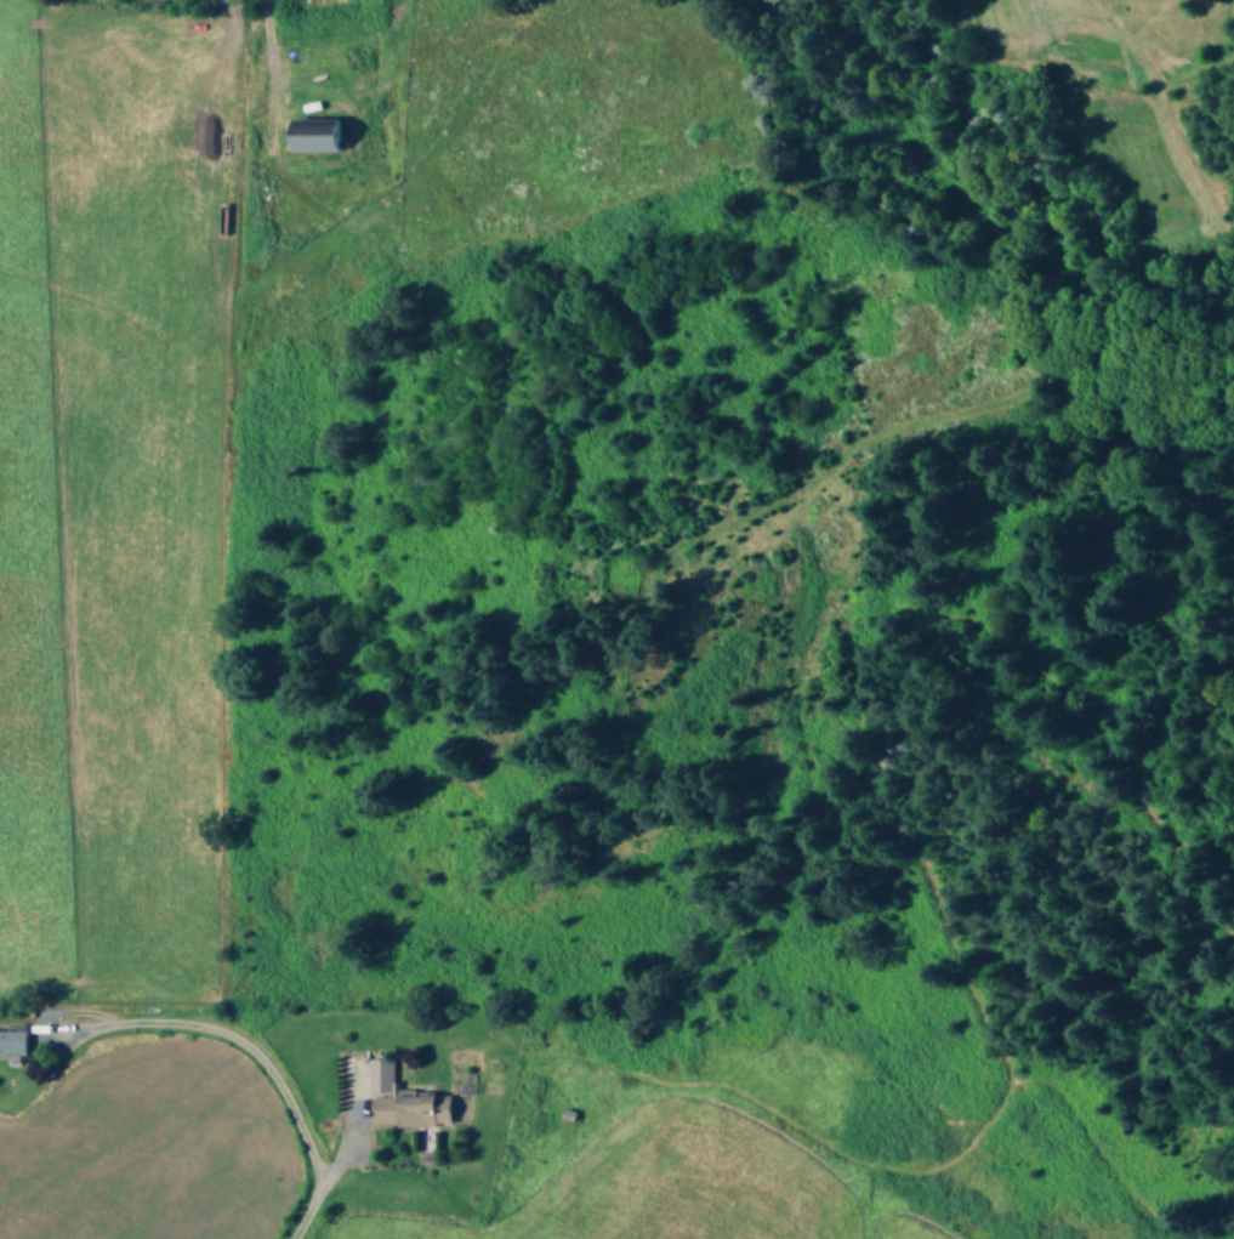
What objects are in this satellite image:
road: (268, 57)
building: (317, 141)
crop: (119, 489)
building: (12, 1041)
road: (244, 1046)
building: (380, 1074)
building: (411, 1109)
road: (352, 1125)

